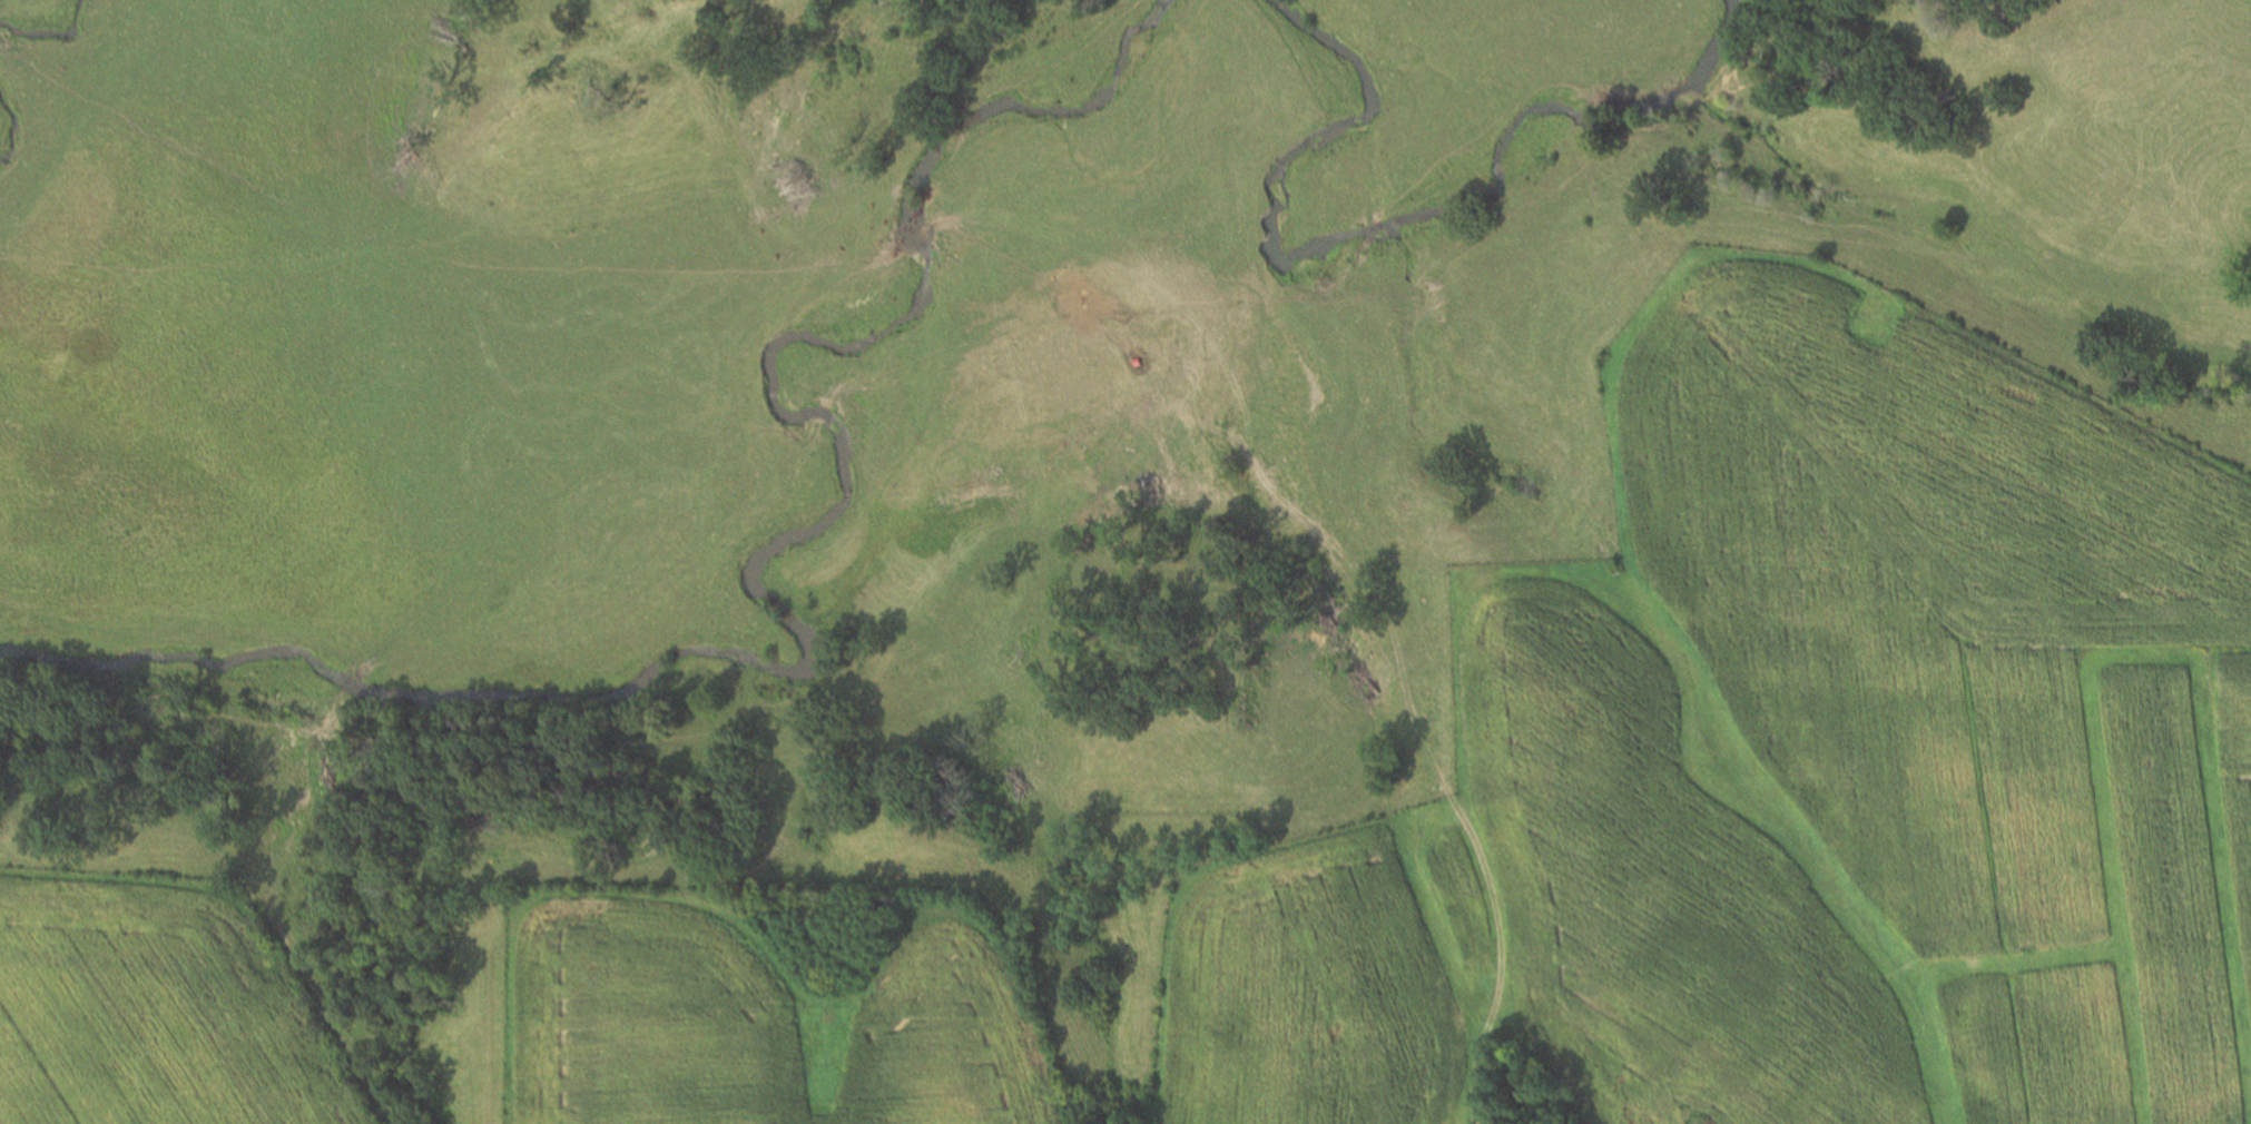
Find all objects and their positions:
road: (1503, 954)

